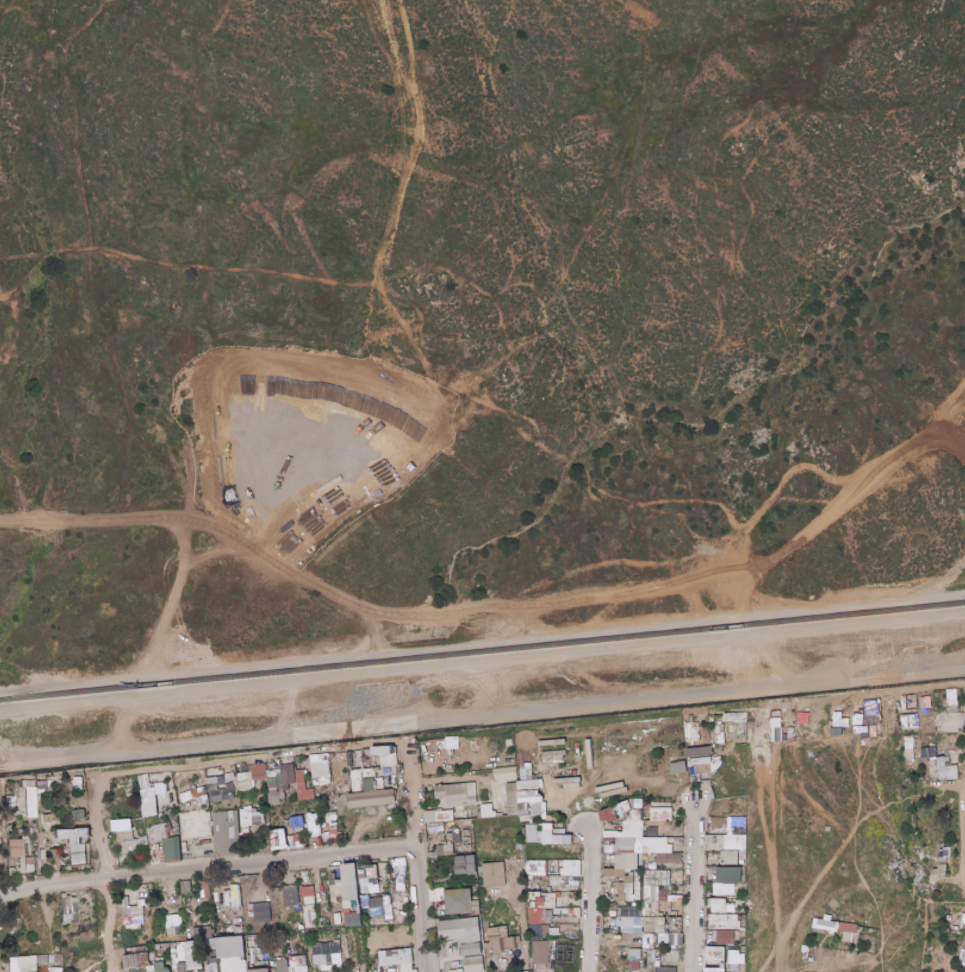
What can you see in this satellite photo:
road: (755, 205)
road: (10, 332)
road: (386, 342)
road: (164, 456)
road: (128, 476)
road: (778, 494)
road: (494, 605)
road: (532, 618)
road: (482, 640)
road: (756, 653)
road: (482, 659)
building: (952, 694)
road: (125, 715)
building: (718, 720)
road: (482, 722)
building: (739, 730)
building: (719, 731)
building: (691, 734)
building: (908, 739)
building: (720, 740)
building: (553, 742)
building: (742, 743)
building: (908, 746)
building: (713, 747)
building: (589, 748)
building: (364, 751)
building: (382, 751)
building: (571, 751)
building: (906, 751)
building: (908, 753)
building: (908, 754)
building: (927, 754)
building: (939, 754)
building: (348, 755)
building: (552, 757)
building: (652, 758)
building: (387, 759)
building: (701, 759)
road: (258, 760)
building: (532, 761)
building: (651, 763)
building: (298, 764)
building: (318, 767)
building: (677, 767)
building: (951, 768)
building: (376, 769)
building: (941, 769)
building: (208, 770)
building: (230, 771)
building: (254, 771)
building: (368, 773)
building: (533, 773)
building: (286, 774)
building: (505, 774)
building: (525, 774)
building: (952, 775)
building: (78, 776)
building: (299, 776)
building: (241, 777)
building: (356, 777)
building: (270, 779)
building: (278, 779)
building: (385, 779)
building: (323, 780)
building: (80, 781)
building: (570, 782)
building: (28, 783)
building: (369, 785)
building: (440, 785)
building: (41, 786)
building: (242, 786)
building: (526, 786)
road: (947, 786)
building: (50, 789)
building: (273, 789)
building: (356, 789)
building: (470, 789)
building: (303, 791)
building: (222, 792)
building: (323, 792)
building: (38, 794)
building: (454, 794)
building: (154, 795)
building: (281, 795)
building: (195, 797)
building: (269, 798)
building: (339, 798)
building: (371, 798)
building: (12, 799)
building: (286, 799)
building: (330, 799)
building: (512, 799)
building: (530, 799)
building: (637, 799)
building: (31, 802)
building: (287, 802)
building: (444, 802)
building: (46, 806)
building: (637, 806)
building: (221, 807)
building: (270, 807)
building: (622, 807)
building: (213, 808)
building: (398, 808)
building: (155, 810)
building: (524, 810)
building: (615, 810)
building: (486, 811)
building: (535, 811)
building: (543, 811)
building: (478, 812)
building: (23, 813)
building: (40, 814)
building: (79, 814)
building: (308, 814)
building: (498, 814)
building: (258, 815)
building: (444, 815)
building: (608, 815)
building: (638, 815)
building: (660, 815)
building: (430, 816)
building: (625, 816)
building: (630, 816)
building: (173, 817)
building: (244, 817)
building: (47, 818)
building: (548, 818)
building: (454, 819)
building: (524, 819)
building: (554, 819)
building: (133, 820)
building: (330, 821)
building: (455, 821)
building: (532, 821)
building: (741, 821)
road: (696, 823)
building: (716, 823)
building: (123, 824)
building: (451, 824)
building: (286, 825)
building: (296, 825)
building: (312, 825)
building: (546, 825)
building: (196, 826)
building: (253, 826)
building: (31, 827)
building: (438, 827)
building: (735, 827)
building: (11, 829)
building: (168, 829)
building: (32, 831)
building: (721, 831)
building: (531, 832)
building: (156, 833)
road: (0, 834)
building: (226, 834)
building: (332, 834)
building: (340, 834)
building: (540, 835)
building: (547, 837)
building: (278, 838)
building: (459, 839)
building: (557, 839)
building: (567, 840)
building: (714, 840)
road: (590, 841)
building: (639, 841)
building: (294, 842)
building: (550, 843)
building: (726, 843)
building: (518, 844)
building: (26, 845)
building: (136, 845)
building: (625, 845)
building: (14, 847)
building: (447, 849)
building: (123, 851)
building: (174, 851)
building: (54, 853)
building: (74, 854)
building: (742, 855)
building: (639, 856)
building: (156, 858)
building: (671, 858)
building: (730, 858)
building: (82, 859)
road: (421, 859)
building: (147, 860)
building: (121, 861)
building: (519, 861)
building: (625, 861)
building: (14, 862)
building: (940, 862)
building: (742, 863)
road: (963, 863)
building: (29, 864)
building: (398, 864)
building: (465, 865)
building: (55, 866)
building: (519, 866)
building: (361, 867)
building: (381, 867)
building: (535, 867)
building: (639, 867)
building: (934, 867)
building: (546, 868)
building: (329, 869)
building: (743, 869)
road: (209, 870)
building: (12, 871)
building: (622, 872)
building: (399, 873)
building: (612, 873)
building: (493, 874)
building: (558, 875)
building: (729, 875)
building: (368, 876)
road: (947, 876)
building: (387, 877)
road: (96, 878)
building: (392, 878)
building: (532, 878)
building: (656, 878)
building: (742, 881)
building: (564, 882)
building: (573, 882)
building: (289, 883)
building: (303, 885)
building: (400, 885)
building: (636, 885)
building: (532, 886)
building: (610, 886)
building: (234, 887)
building: (722, 887)
building: (335, 888)
building: (377, 888)
building: (664, 888)
building: (346, 889)
building: (137, 891)
building: (205, 892)
building: (629, 892)
building: (352, 893)
building: (437, 894)
building: (610, 894)
building: (618, 894)
building: (648, 894)
building: (379, 895)
building: (556, 895)
building: (290, 896)
building: (306, 896)
building: (571, 896)
building: (676, 896)
building: (231, 898)
building: (605, 899)
building: (661, 899)
building: (78, 900)
building: (542, 900)
building: (258, 901)
building: (458, 901)
building: (635, 903)
building: (609, 904)
building: (731, 904)
building: (718, 905)
building: (297, 906)
building: (379, 906)
building: (233, 907)
building: (664, 907)
building: (476, 908)
building: (67, 909)
road: (693, 909)
building: (650, 910)
building: (951, 910)
building: (126, 911)
building: (262, 912)
building: (338, 912)
building: (628, 912)
building: (573, 913)
building: (675, 913)
building: (82, 914)
road: (590, 915)
building: (293, 917)
building: (308, 917)
building: (534, 918)
building: (329, 919)
building: (962, 919)
building: (132, 920)
building: (337, 920)
building: (354, 920)
building: (622, 920)
building: (629, 921)
building: (365, 922)
building: (547, 922)
building: (723, 922)
building: (652, 923)
building: (173, 925)
building: (637, 925)
building: (300, 926)
building: (675, 926)
building: (846, 927)
building: (237, 929)
building: (742, 929)
building: (962, 929)
building: (534, 930)
building: (544, 930)
building: (660, 930)
building: (212, 931)
building: (459, 931)
building: (622, 931)
building: (185, 932)
building: (498, 932)
building: (632, 932)
building: (201, 933)
road: (515, 934)
building: (186, 935)
building: (536, 937)
building: (723, 937)
building: (847, 937)
building: (248, 938)
building: (516, 939)
building: (655, 940)
building: (946, 941)
building: (552, 943)
building: (207, 944)
building: (502, 944)
building: (540, 945)
building: (152, 946)
building: (147, 947)
building: (233, 947)
building: (488, 947)
building: (676, 947)
building: (176, 948)
building: (471, 949)
building: (289, 951)
building: (326, 953)
building: (733, 953)
building: (634, 954)
building: (651, 955)
building: (673, 955)
building: (540, 957)
building: (25, 958)
building: (718, 958)
building: (741, 958)
building: (961, 958)
building: (732, 959)
building: (136, 960)
building: (395, 960)
building: (297, 961)
building: (44, 962)
building: (58, 962)
building: (706, 962)
building: (152, 963)
building: (268, 963)
building: (23, 964)
building: (473, 964)
building: (633, 964)
building: (212, 965)
building: (253, 965)
building: (281, 965)
building: (335, 966)
building: (160, 967)
building: (176, 967)
building: (182, 967)
building: (320, 967)
building: (732, 967)
building: (151, 968)
building: (251, 968)
building: (137, 969)
building: (301, 969)
building: (653, 969)
building: (666, 969)
road: (833, 969)
building: (53, 970)
building: (58, 970)
building: (260, 970)
building: (456, 970)
building: (714, 970)
building: (35, 971)

